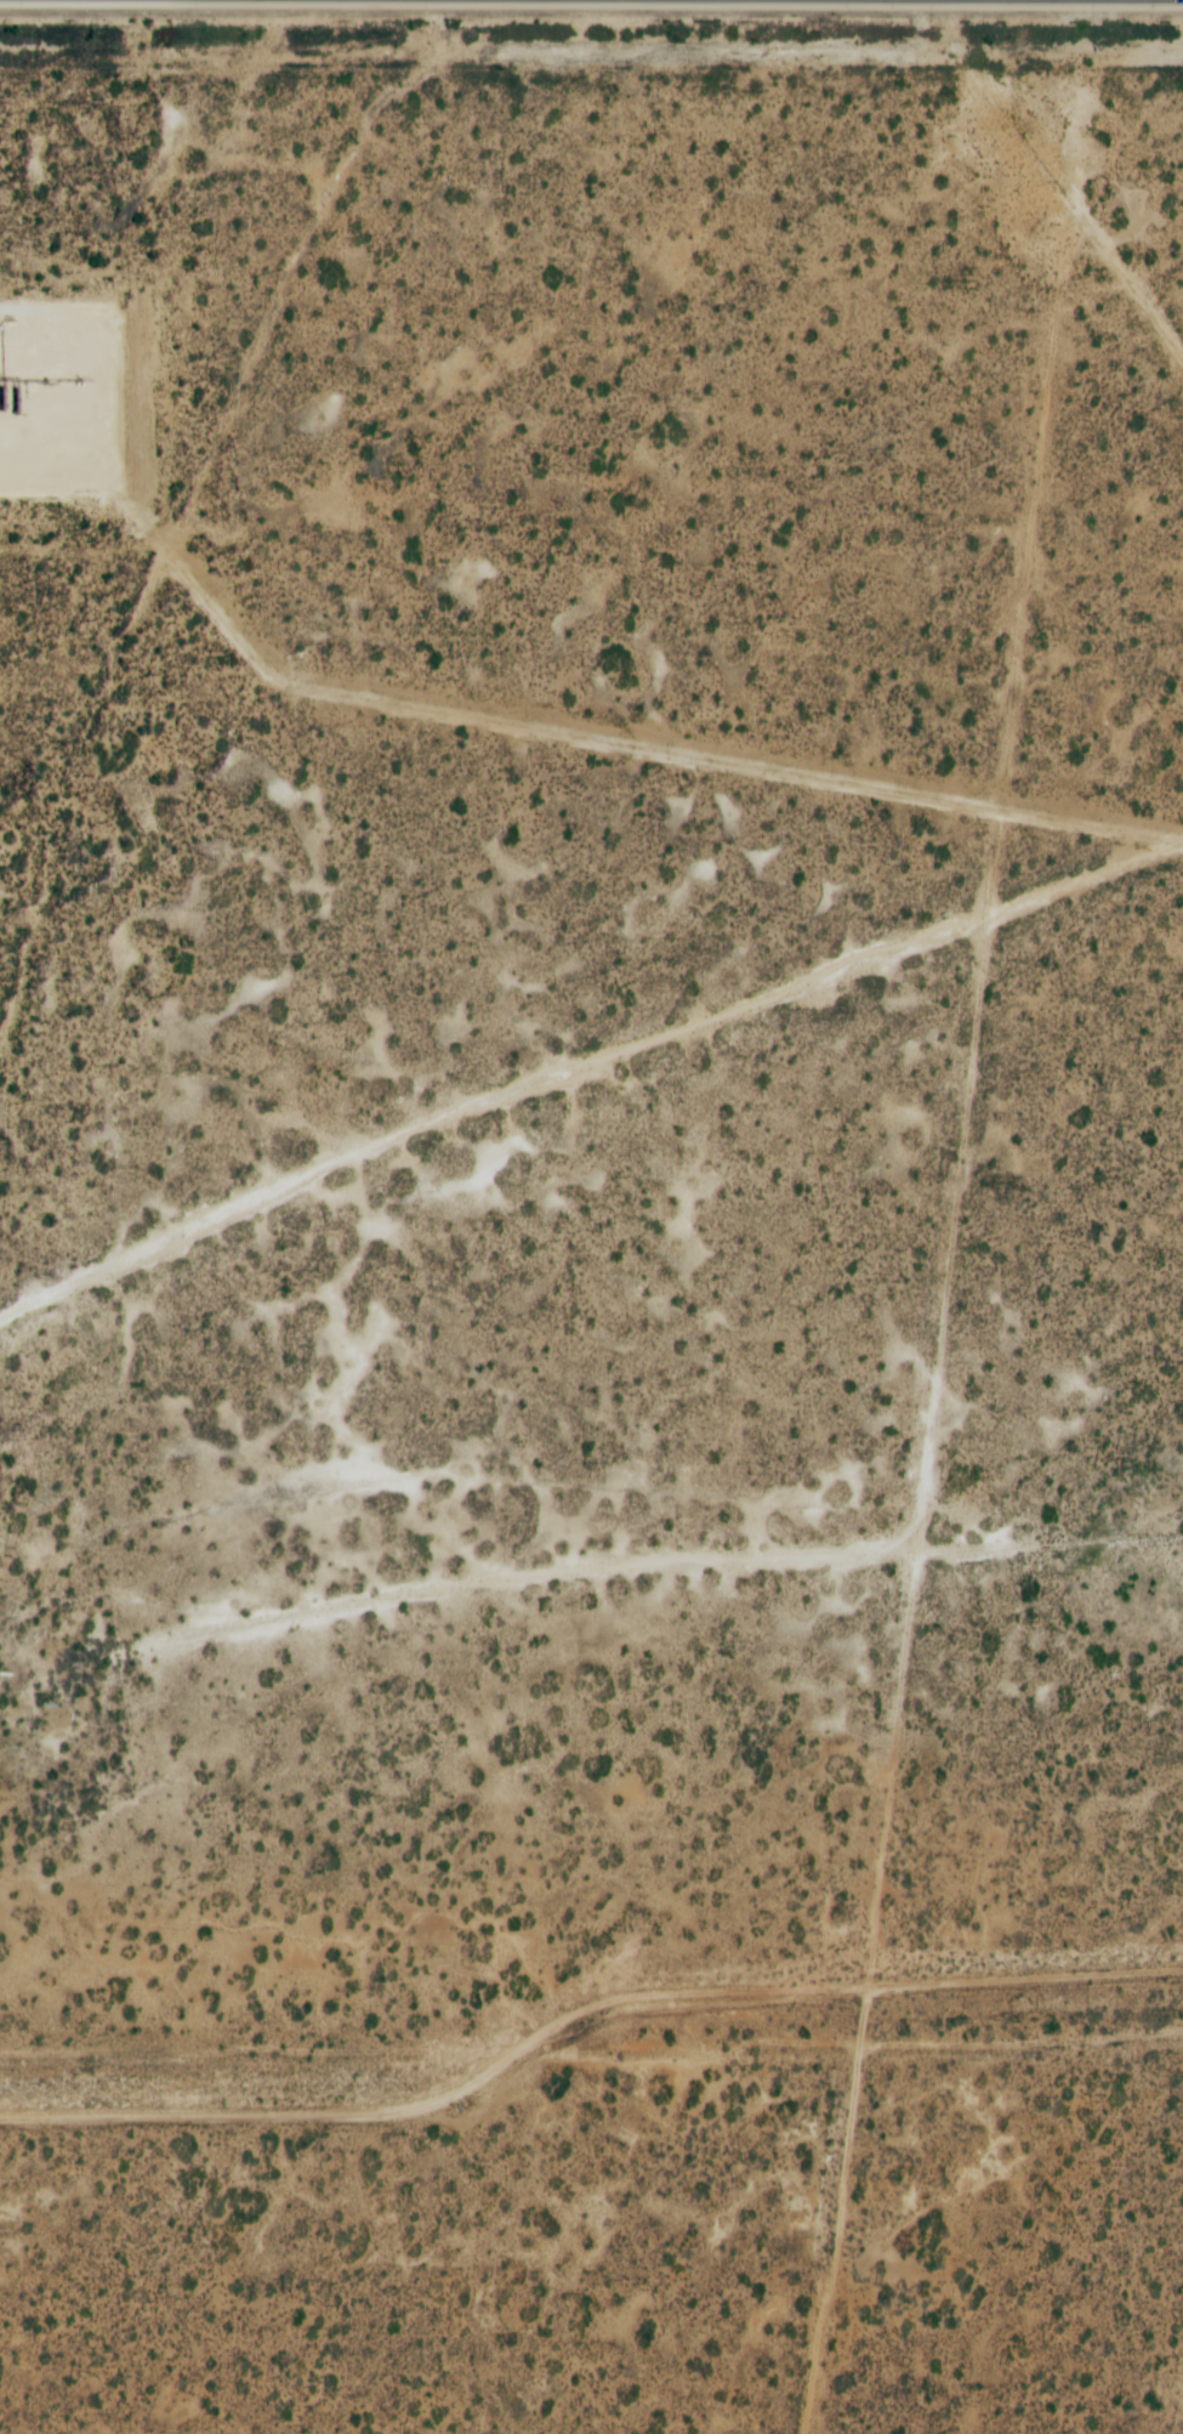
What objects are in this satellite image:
road: (1050, 0)

